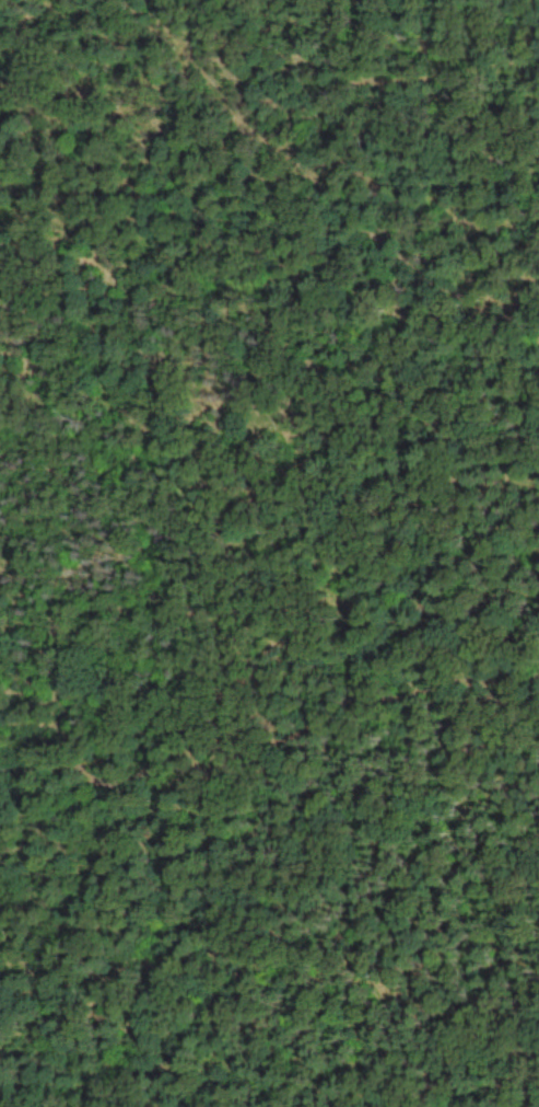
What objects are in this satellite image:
road: (269, 356)

